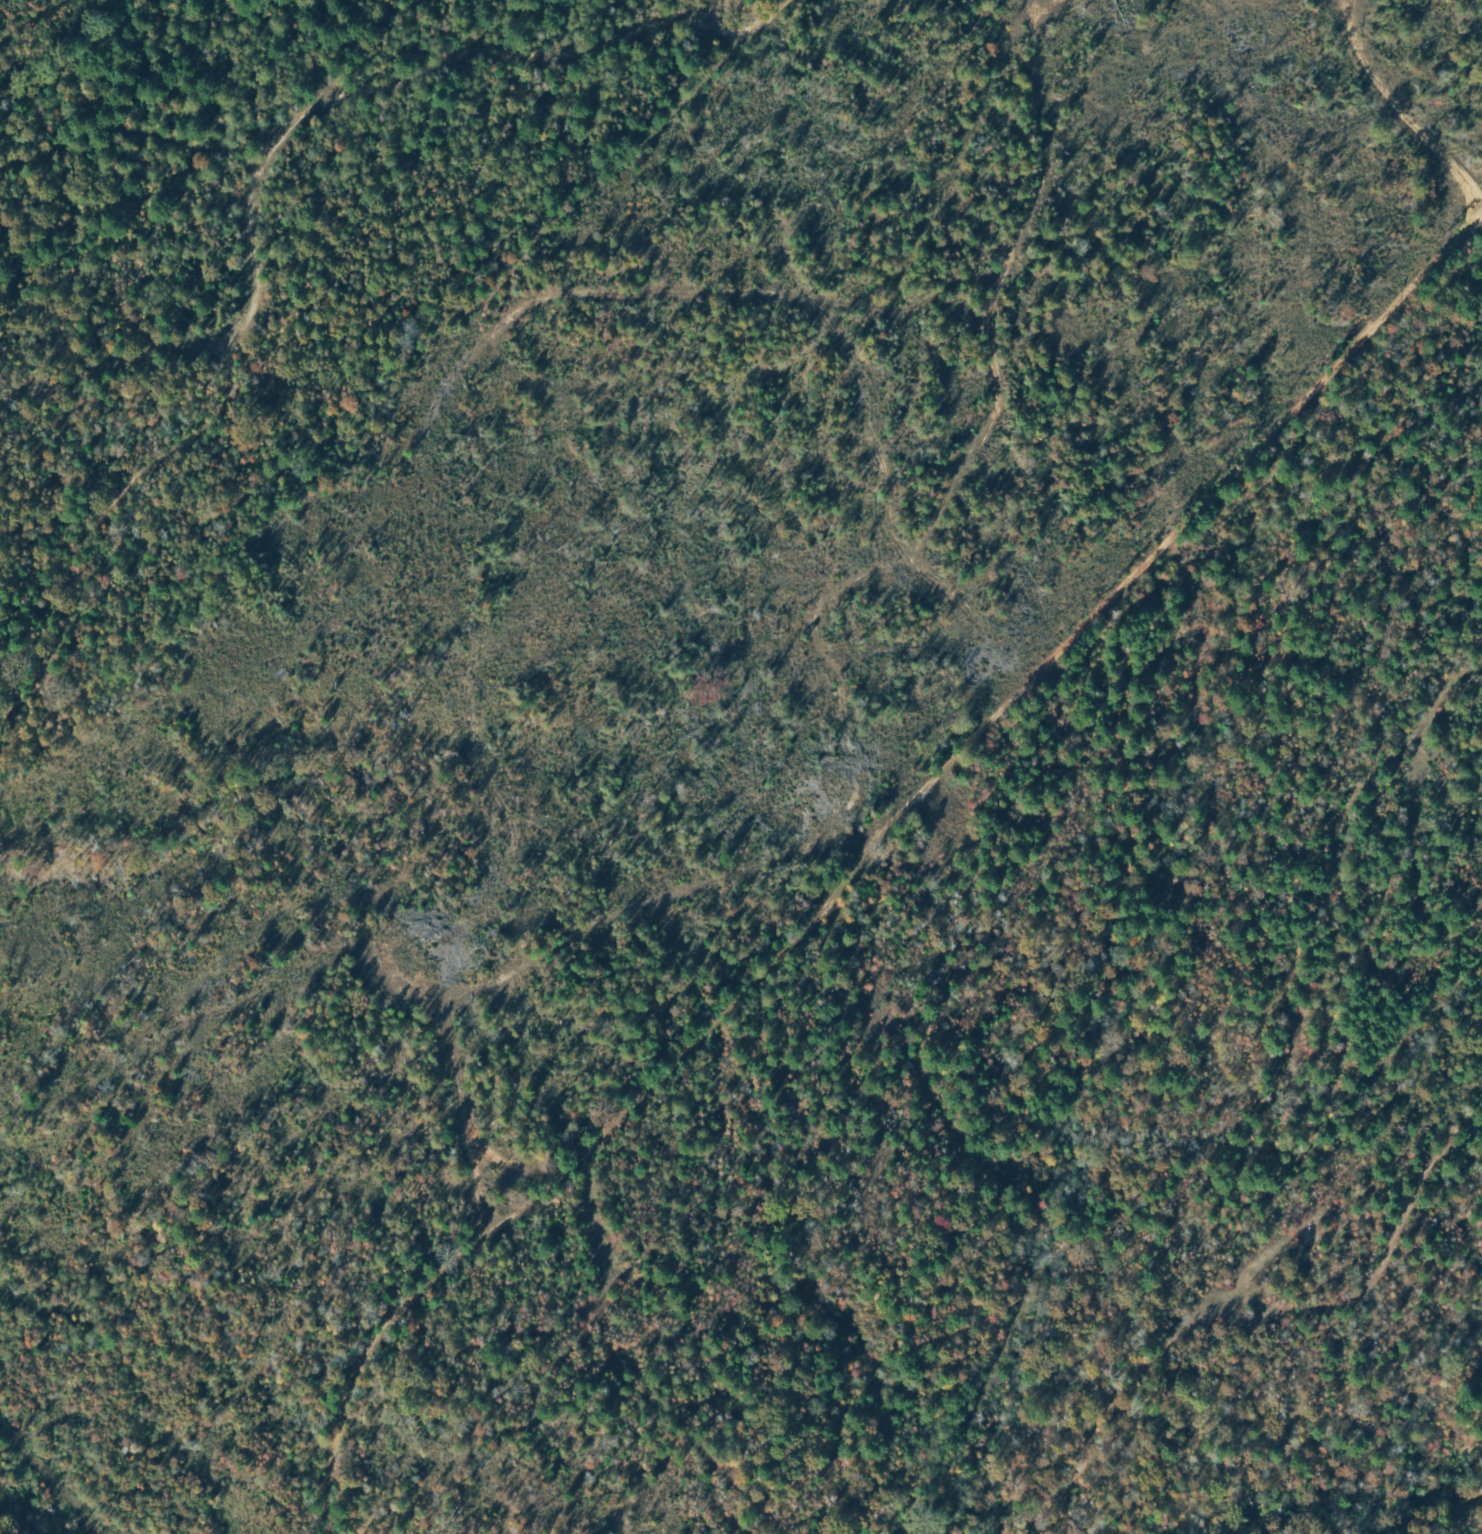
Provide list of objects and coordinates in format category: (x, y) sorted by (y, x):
road: (1403, 105)

